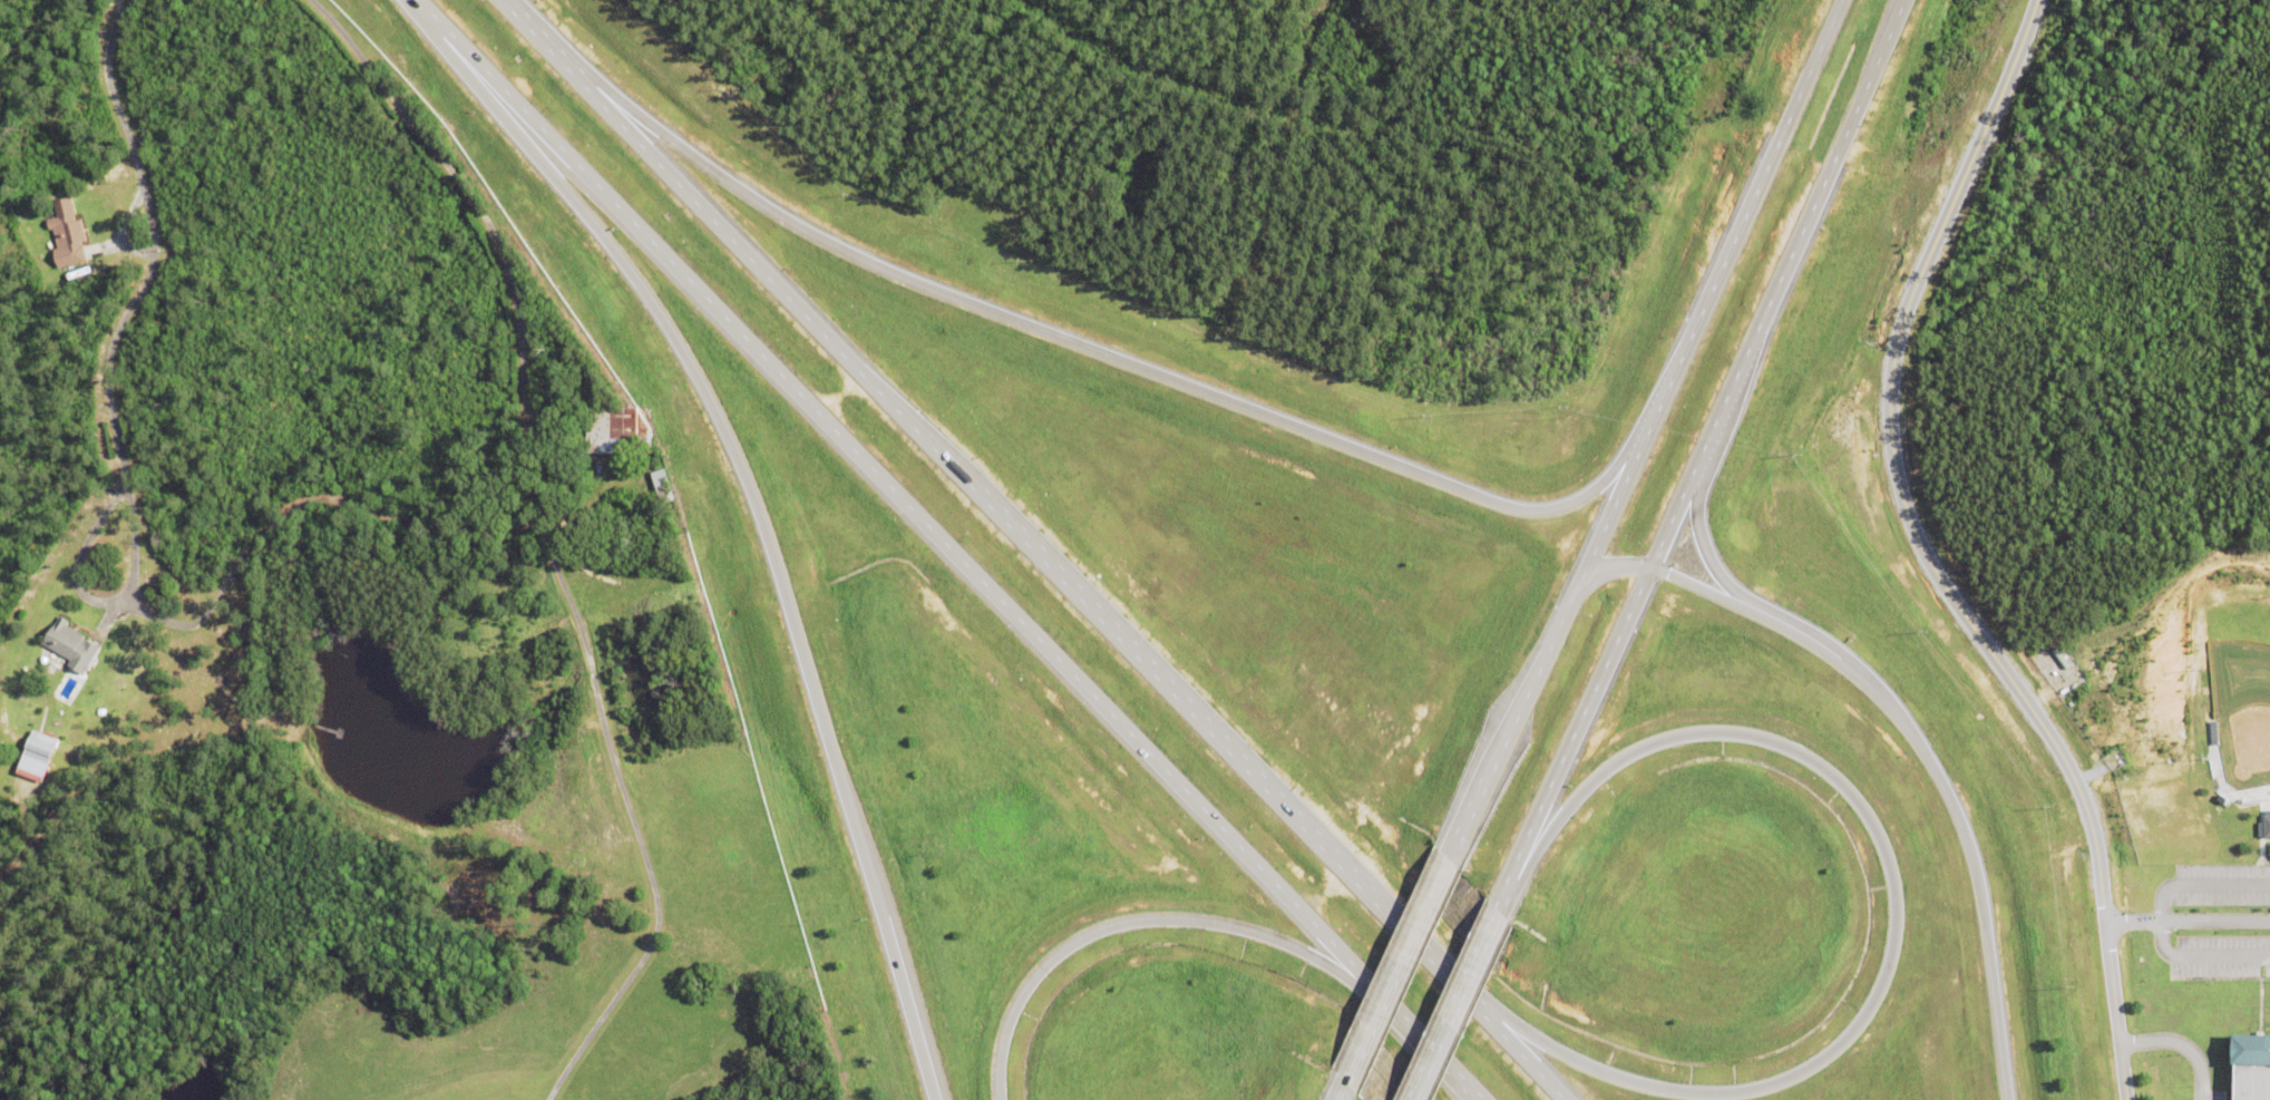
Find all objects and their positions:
road: (1283, 162)
road: (1741, 216)
building: (68, 241)
building: (79, 275)
road: (136, 283)
road: (1774, 285)
building: (61, 303)
road: (1105, 353)
building: (617, 432)
building: (678, 467)
building: (663, 488)
road: (762, 530)
road: (545, 538)
road: (1037, 547)
road: (946, 551)
road: (1925, 557)
road: (1715, 566)
building: (555, 581)
building: (71, 648)
road: (1547, 649)
park: (2240, 693)
road: (1570, 736)
road: (1909, 736)
building: (41, 749)
building: (2264, 827)
road: (1491, 905)
road: (1897, 909)
road: (1147, 922)
parking lot: (2221, 922)
road: (2186, 923)
road: (1395, 975)
road: (1444, 1005)
road: (2179, 1047)
building: (2250, 1069)
road: (1339, 1093)

